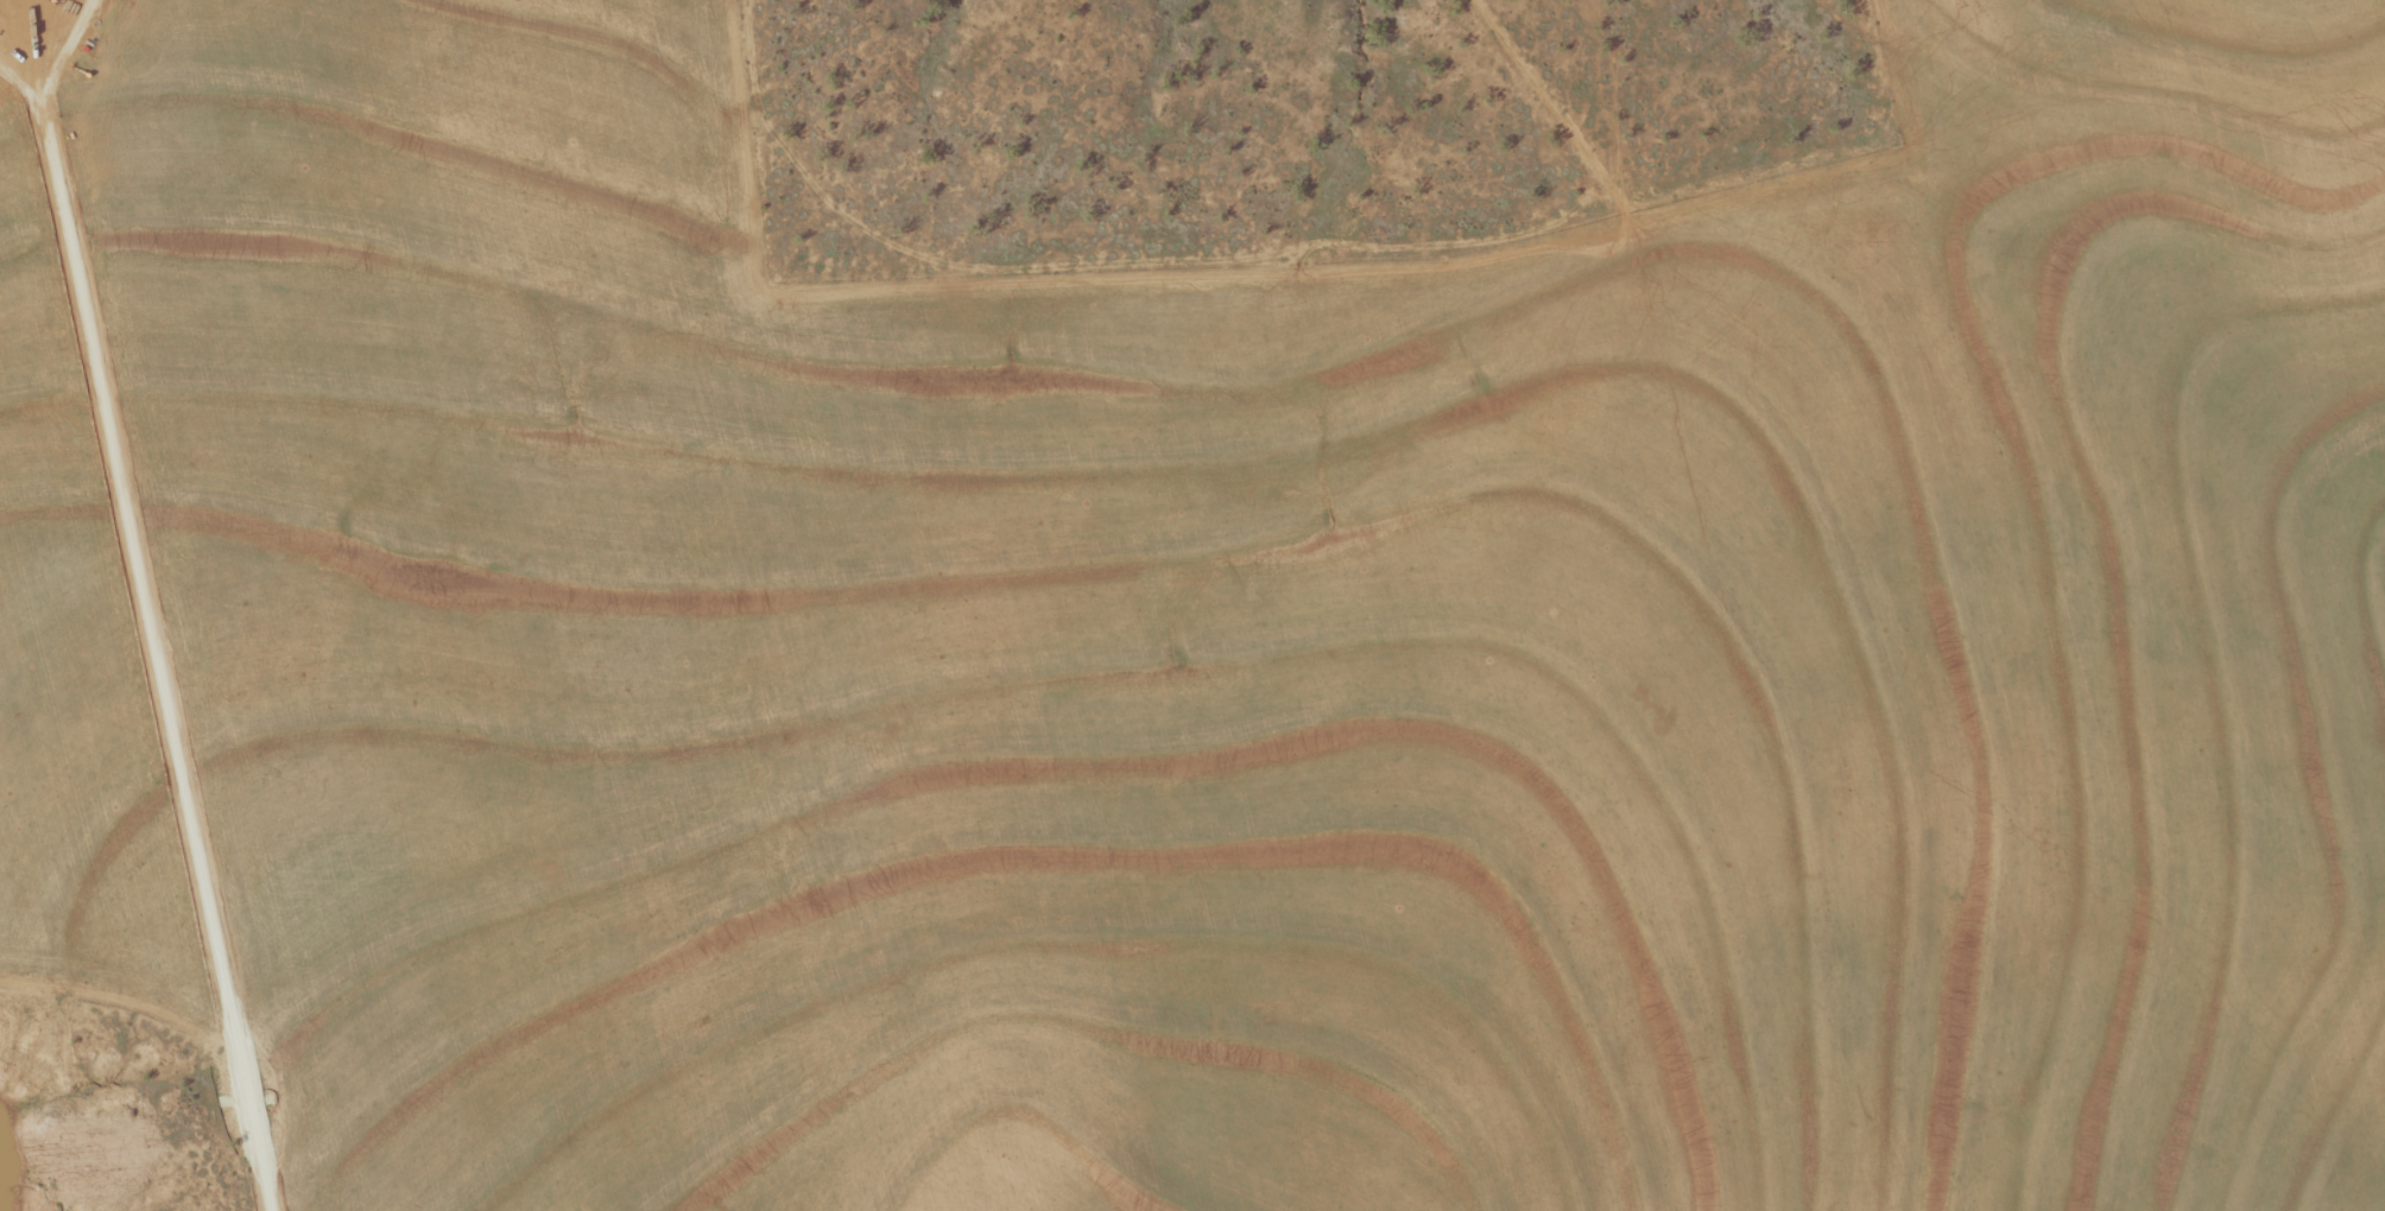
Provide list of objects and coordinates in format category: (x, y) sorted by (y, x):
road: (1975, 602)
road: (185, 1042)

